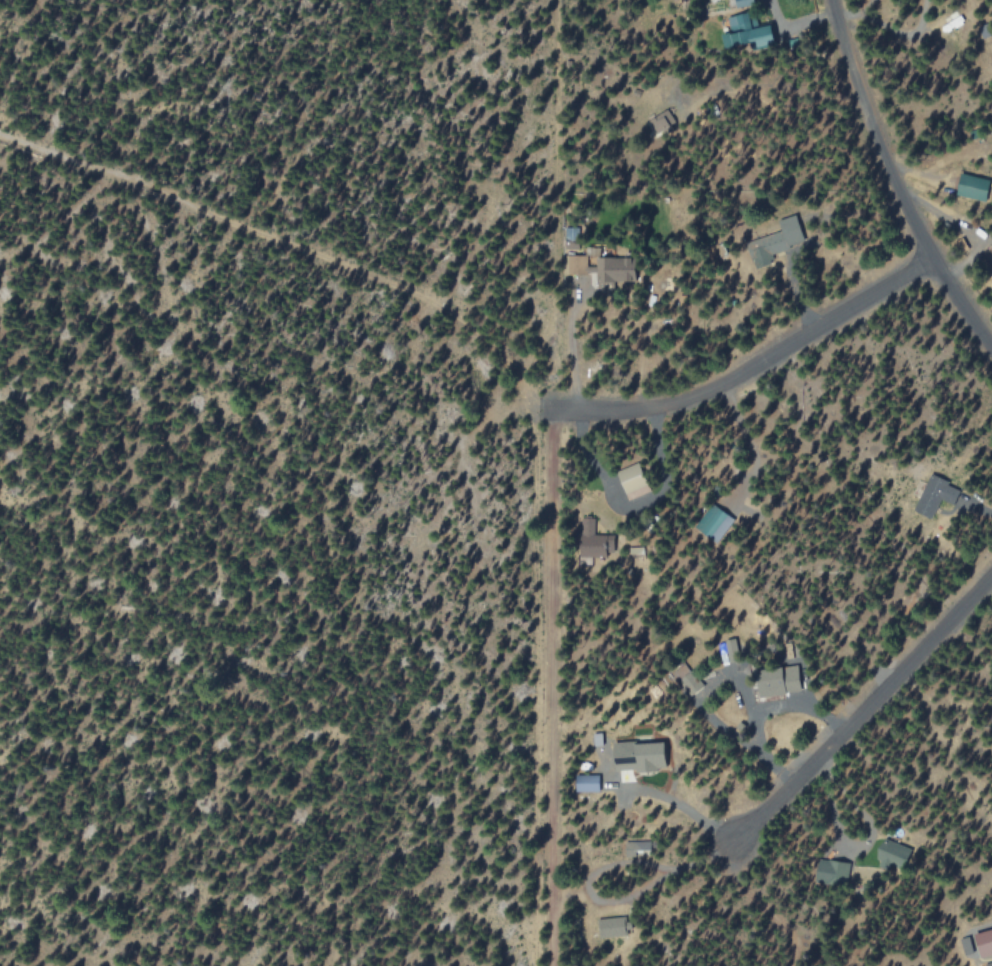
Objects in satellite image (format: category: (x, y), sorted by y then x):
road: (894, 182)
building: (973, 186)
building: (776, 240)
building: (601, 267)
road: (752, 369)
building: (631, 478)
building: (934, 494)
building: (778, 681)
road: (551, 689)
road: (865, 710)
building: (642, 758)
building: (587, 783)
building: (611, 927)
building: (984, 943)

